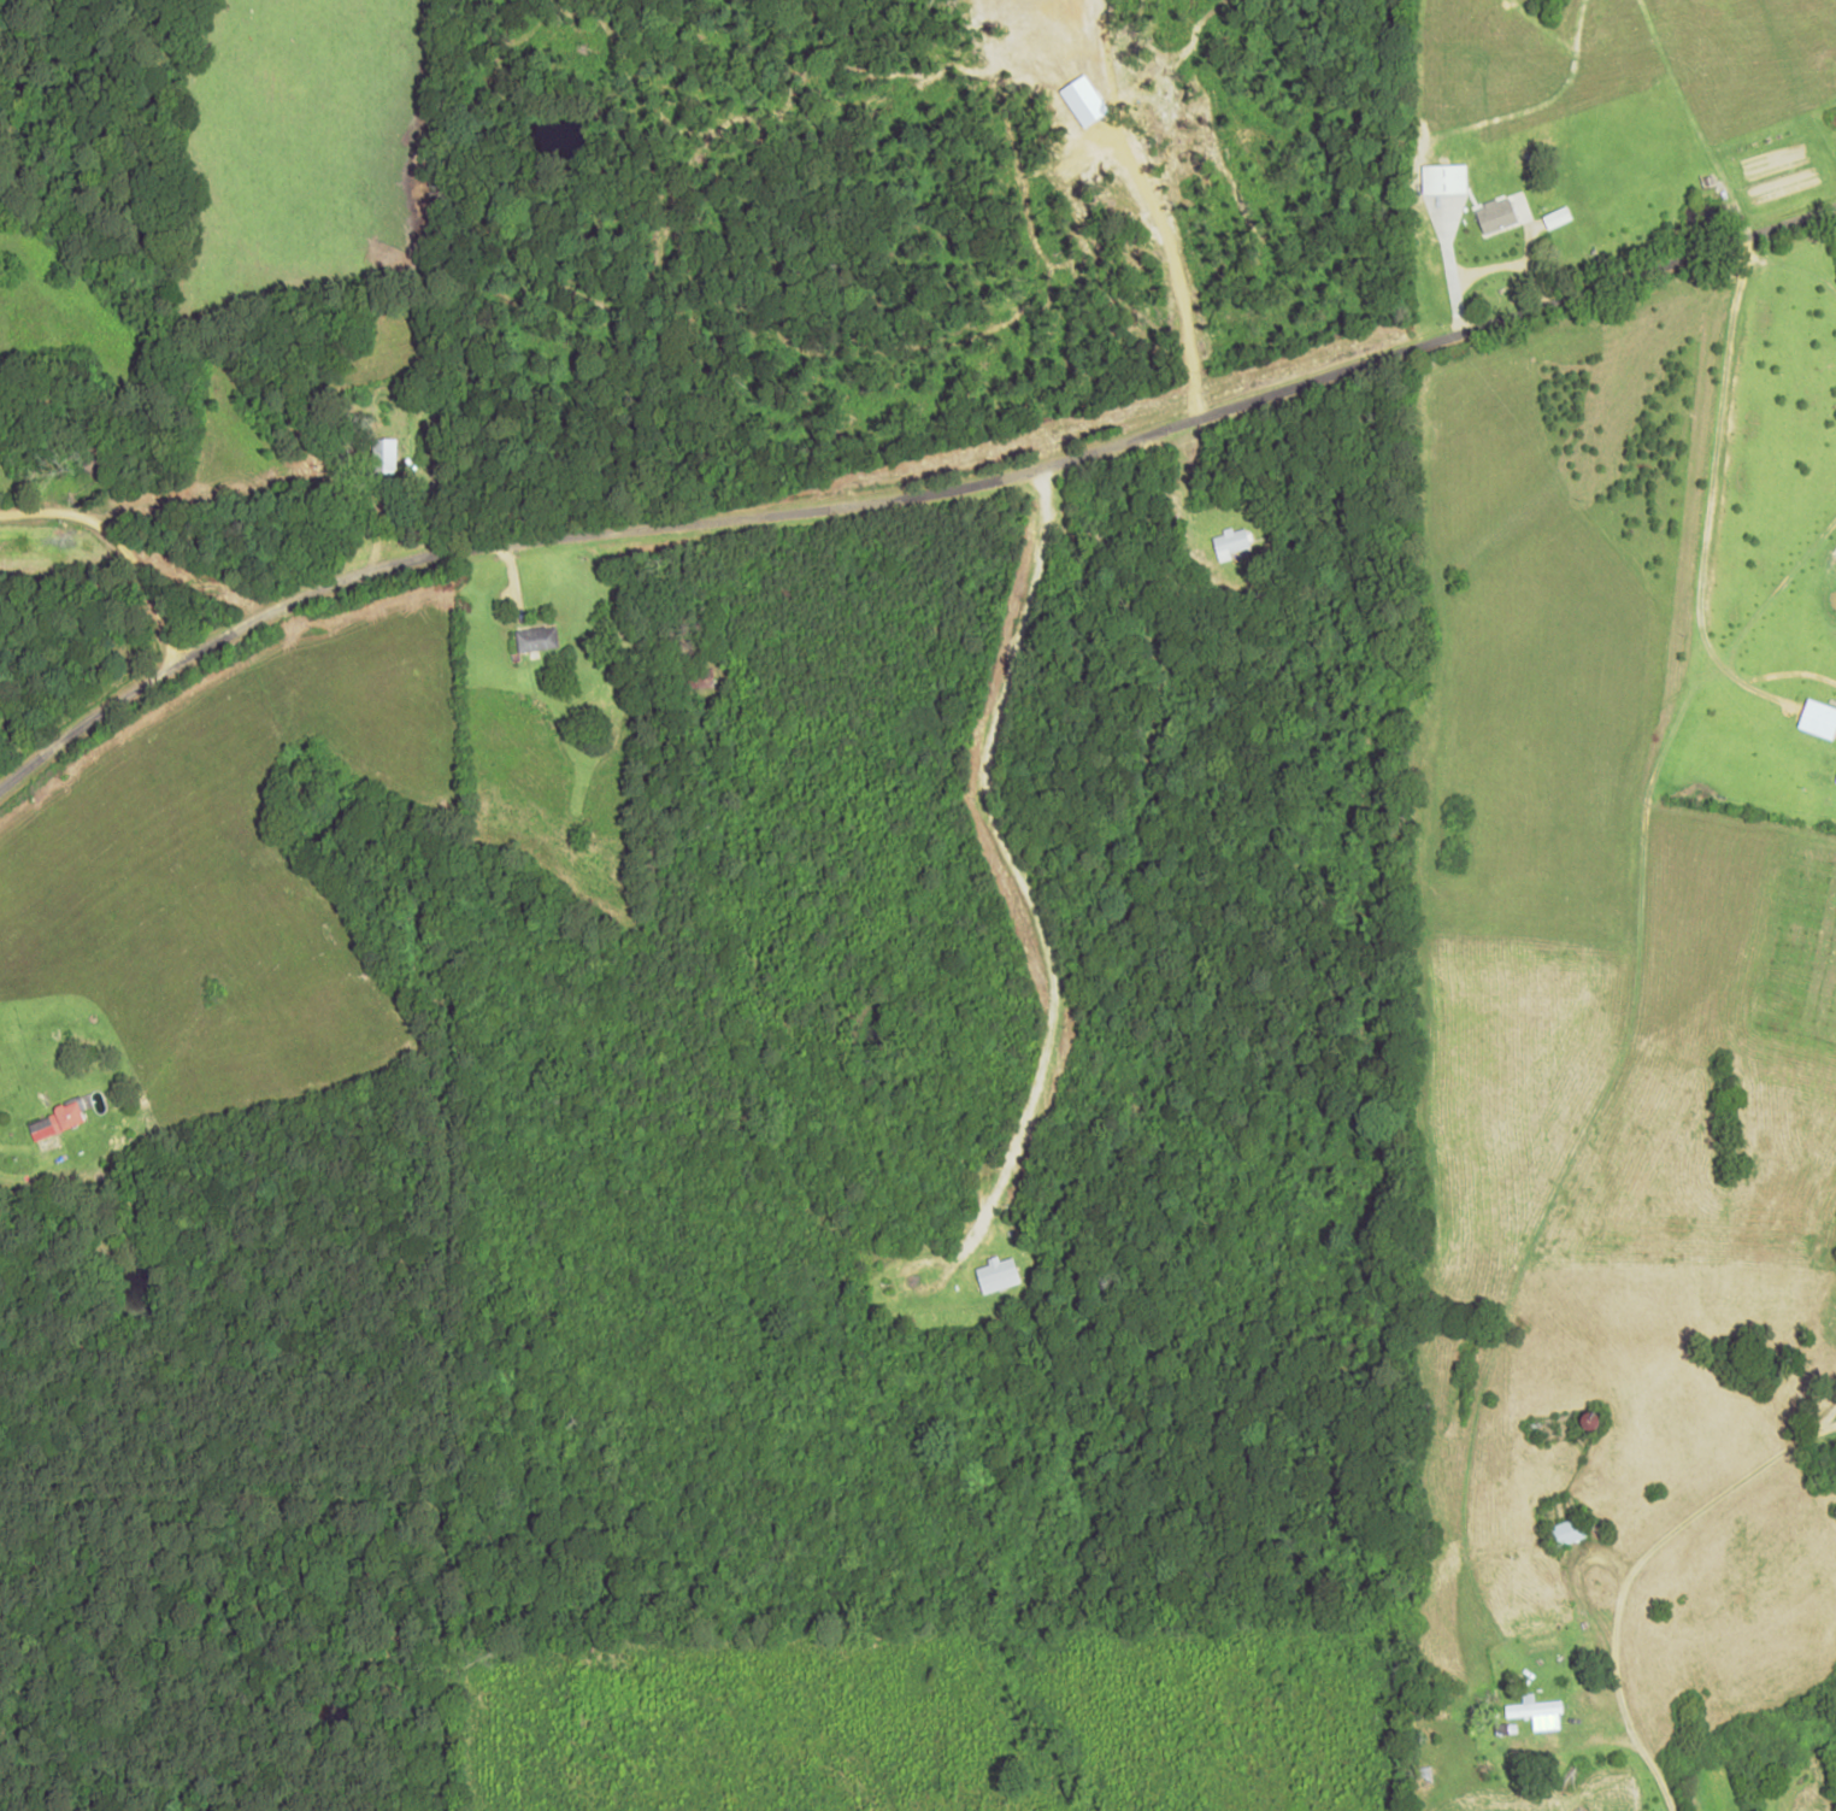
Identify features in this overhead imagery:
building: (1082, 100)
building: (1443, 178)
building: (1495, 214)
road: (1188, 267)
building: (383, 455)
road: (900, 493)
building: (1230, 542)
road: (125, 555)
building: (537, 639)
building: (1835, 781)
building: (57, 1121)
building: (996, 1275)
building: (1567, 1533)
road: (1603, 1568)
building: (1532, 1706)

